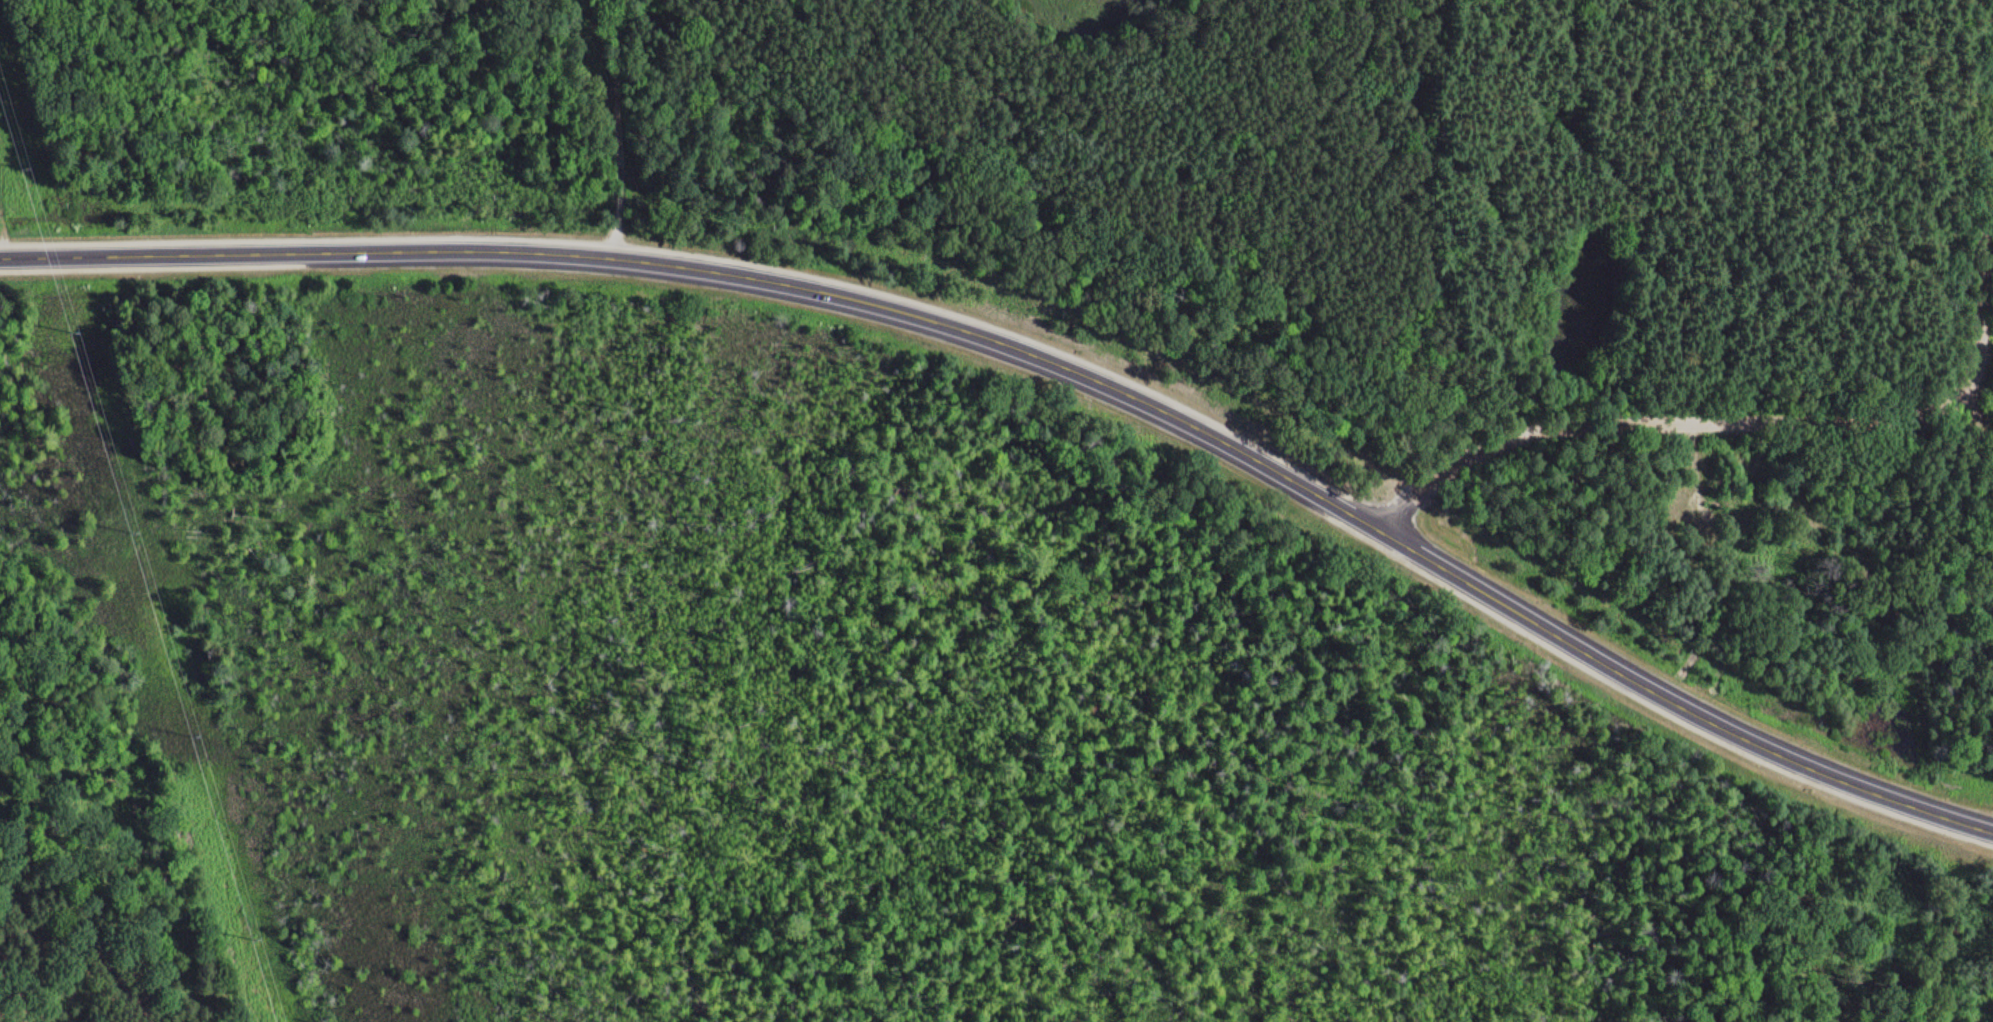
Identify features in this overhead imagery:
road: (619, 128)
road: (1986, 289)
road: (1046, 360)
road: (1678, 424)

